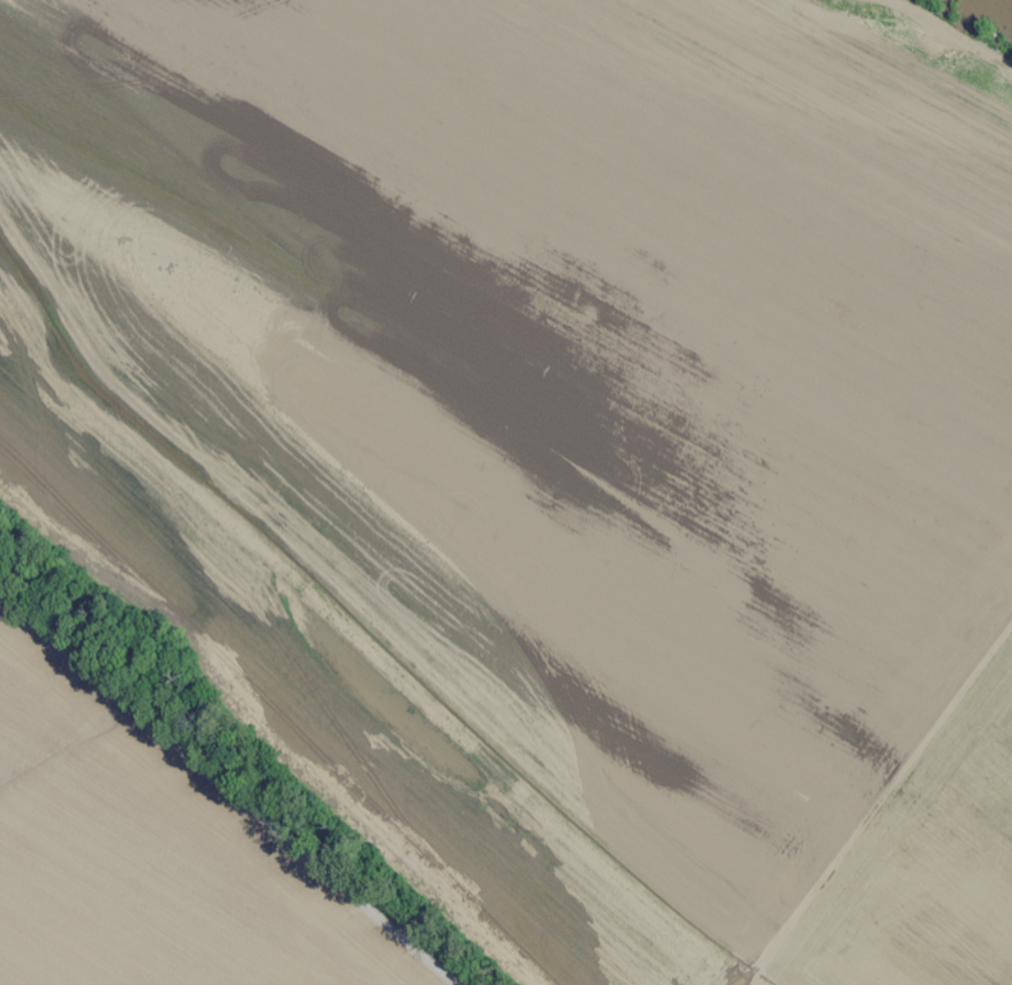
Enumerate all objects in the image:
road: (228, 788)

